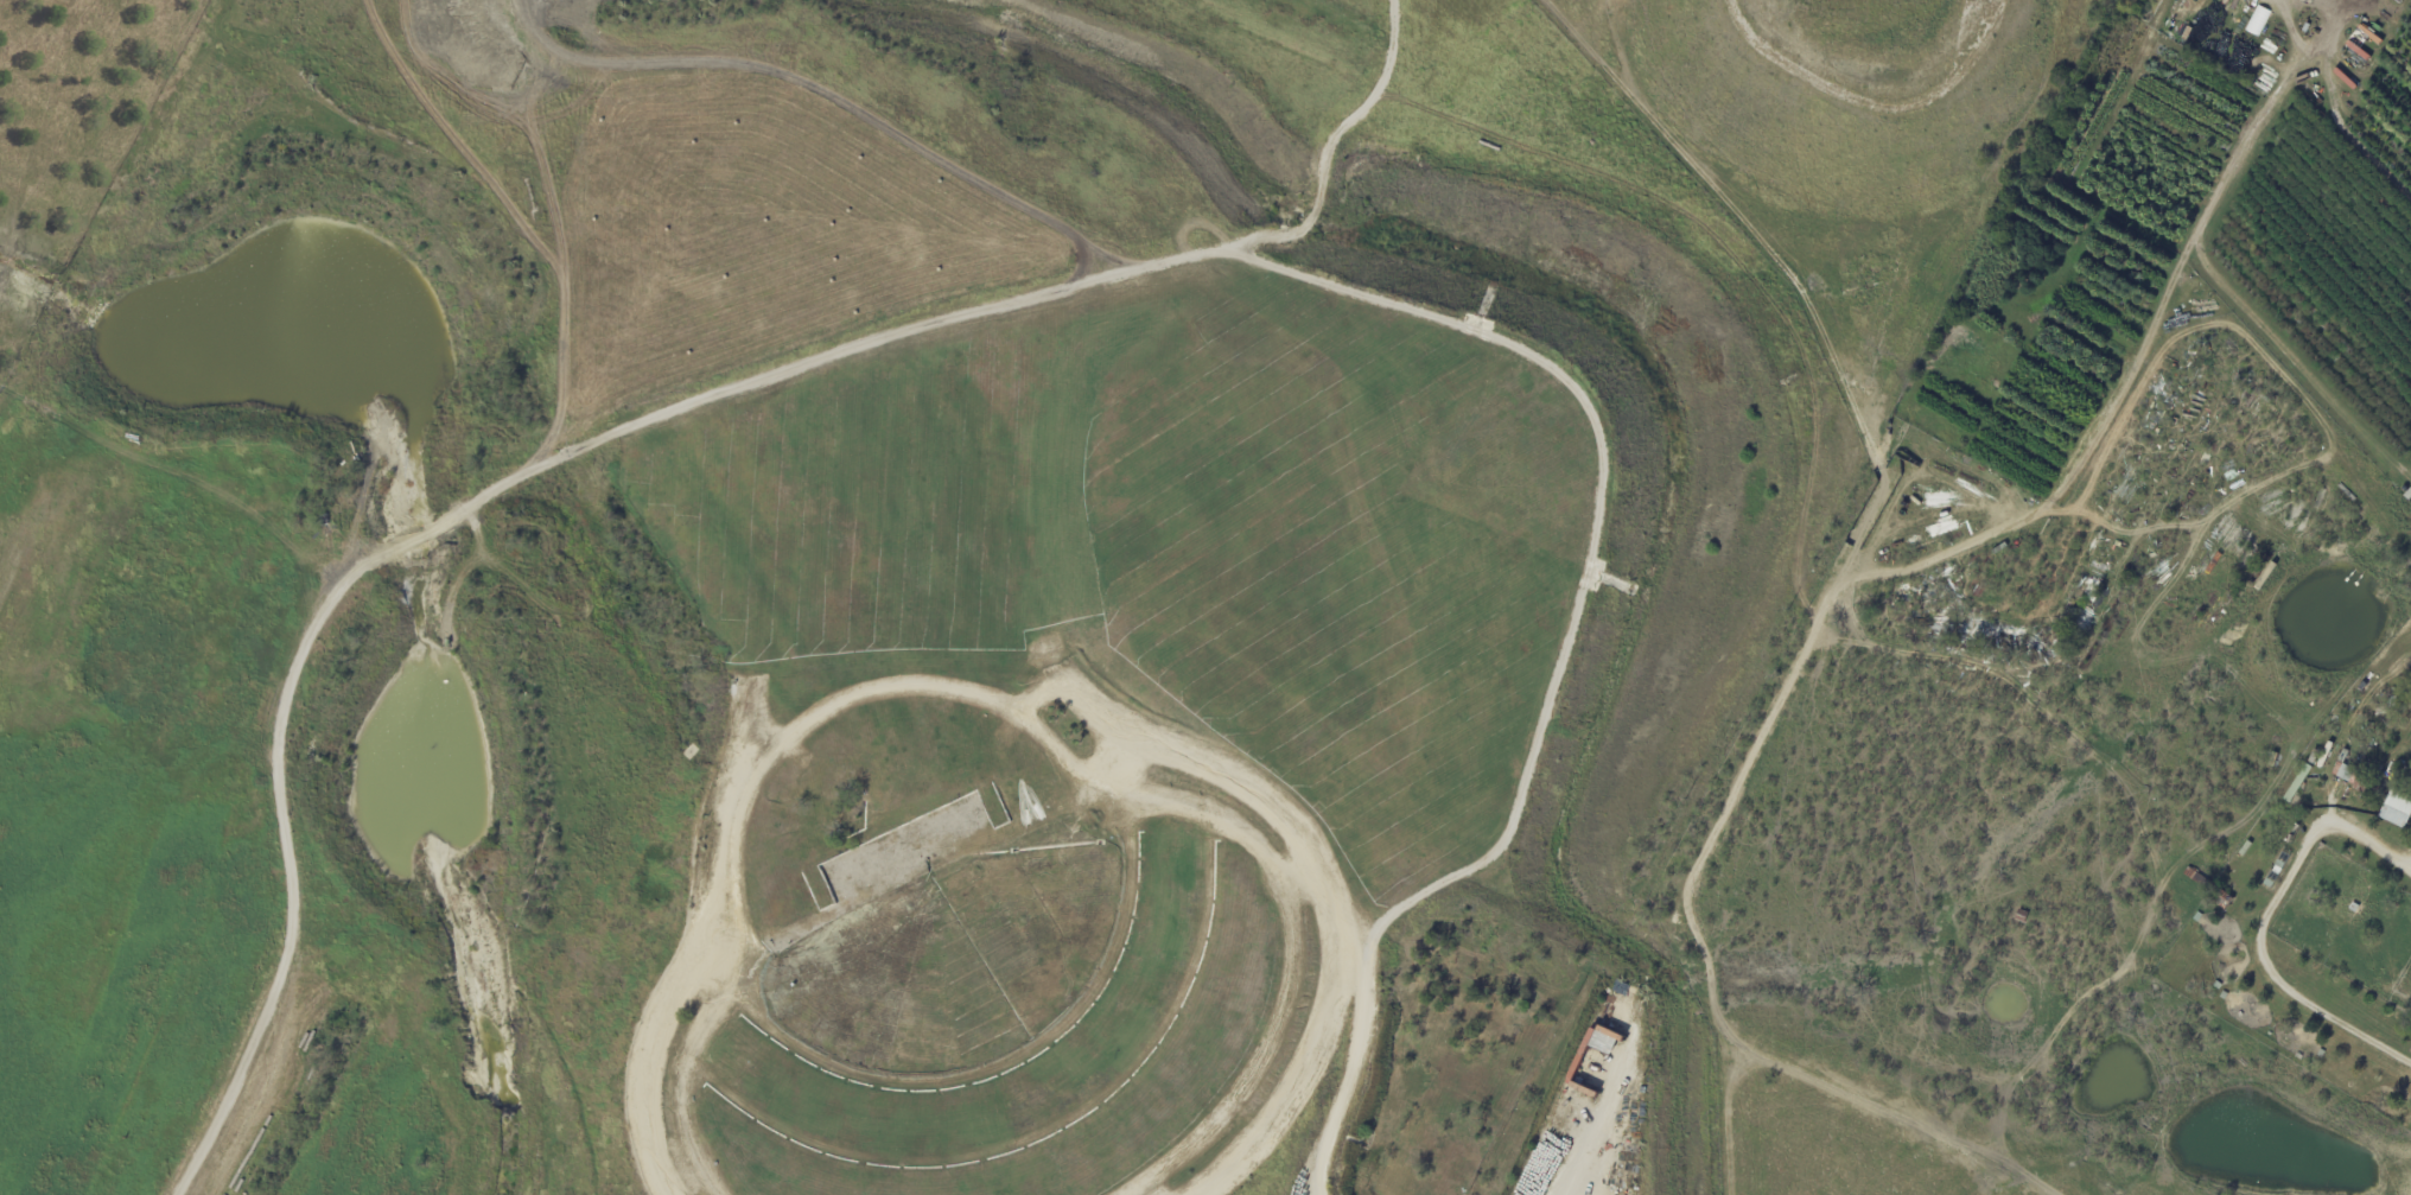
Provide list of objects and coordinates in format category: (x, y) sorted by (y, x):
building: (2187, 32)
building: (2407, 495)
road: (1901, 567)
road: (2061, 725)
building: (2324, 755)
building: (2313, 756)
building: (2345, 768)
building: (2297, 782)
building: (2368, 786)
building: (2397, 807)
road: (2307, 845)
building: (2246, 847)
building: (2196, 877)
road: (2409, 877)
building: (1265, 882)
building: (2219, 896)
building: (2354, 907)
building: (2021, 915)
building: (2345, 984)
building: (2224, 994)
building: (2365, 997)
building: (2378, 1005)
building: (2390, 1016)
road: (2049, 1040)
building: (2321, 1053)
building: (2298, 1056)
road: (1773, 1059)
road: (1841, 1106)

